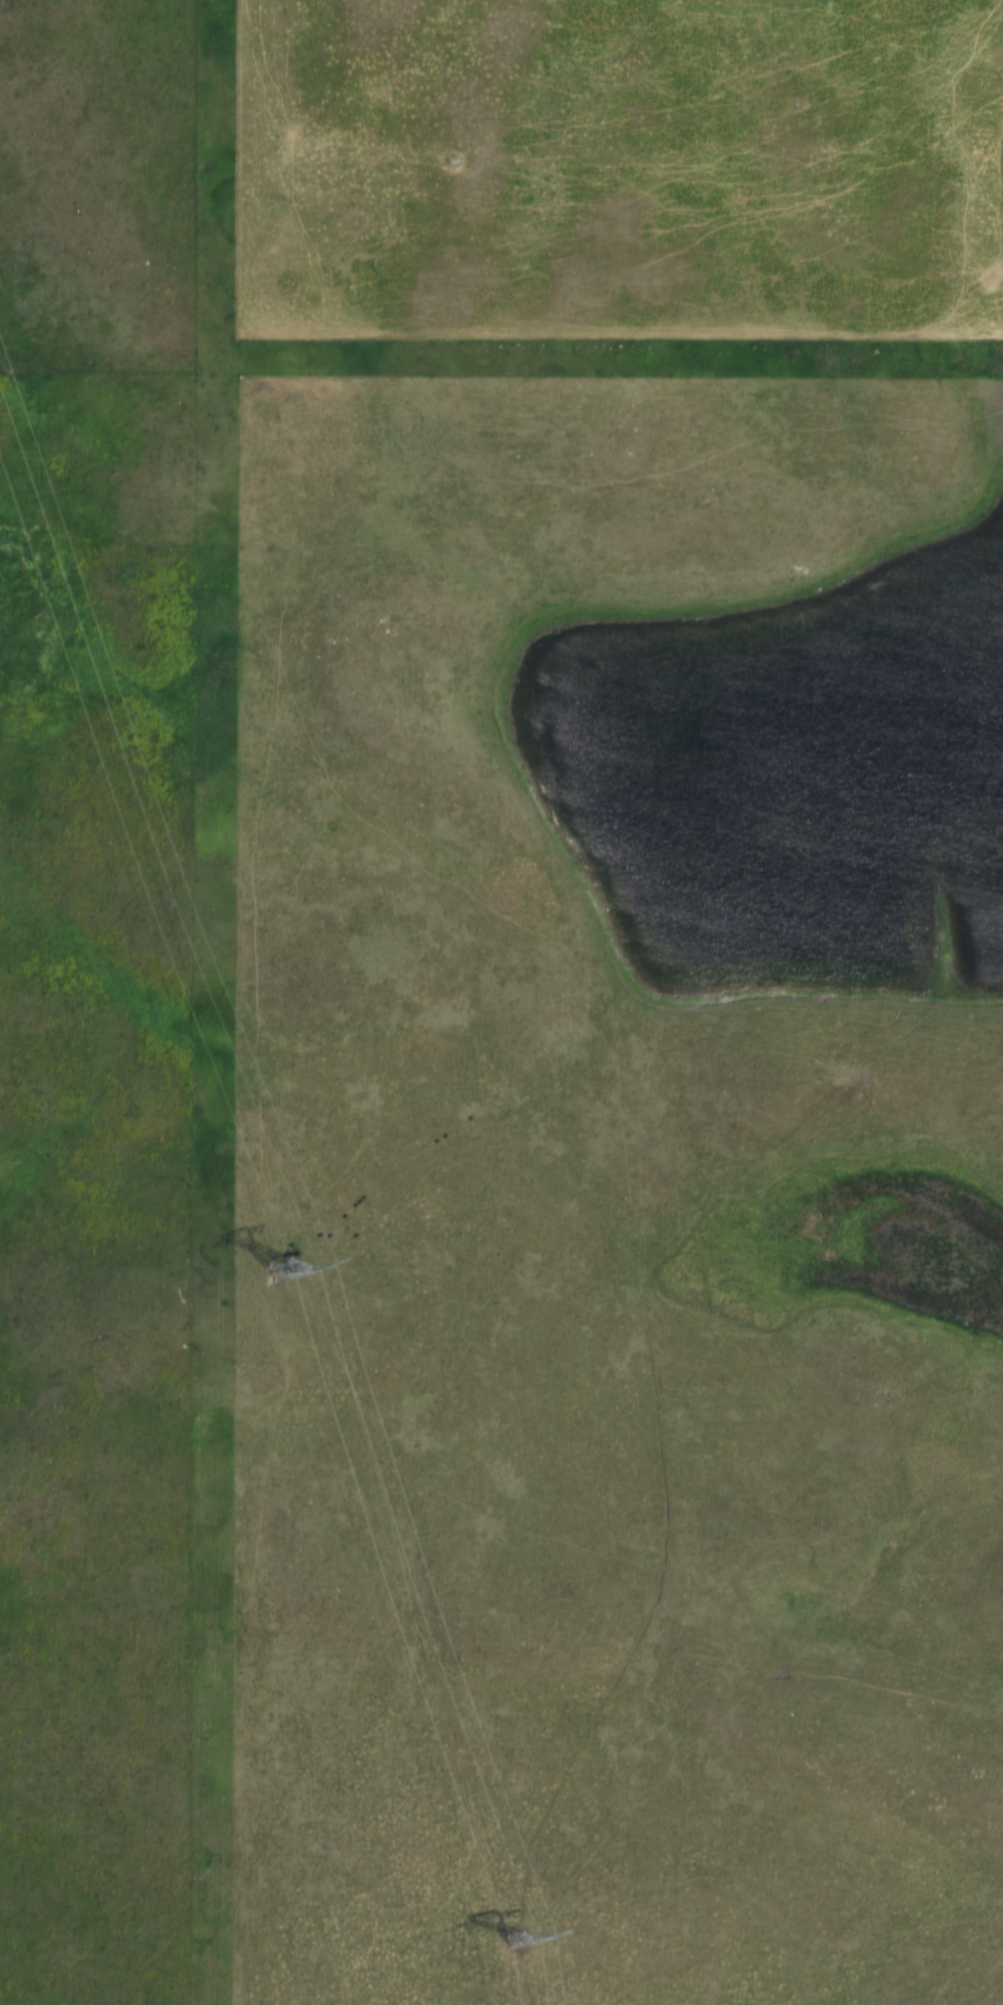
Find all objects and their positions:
power tower: (284, 1269)
power tower: (516, 1940)

